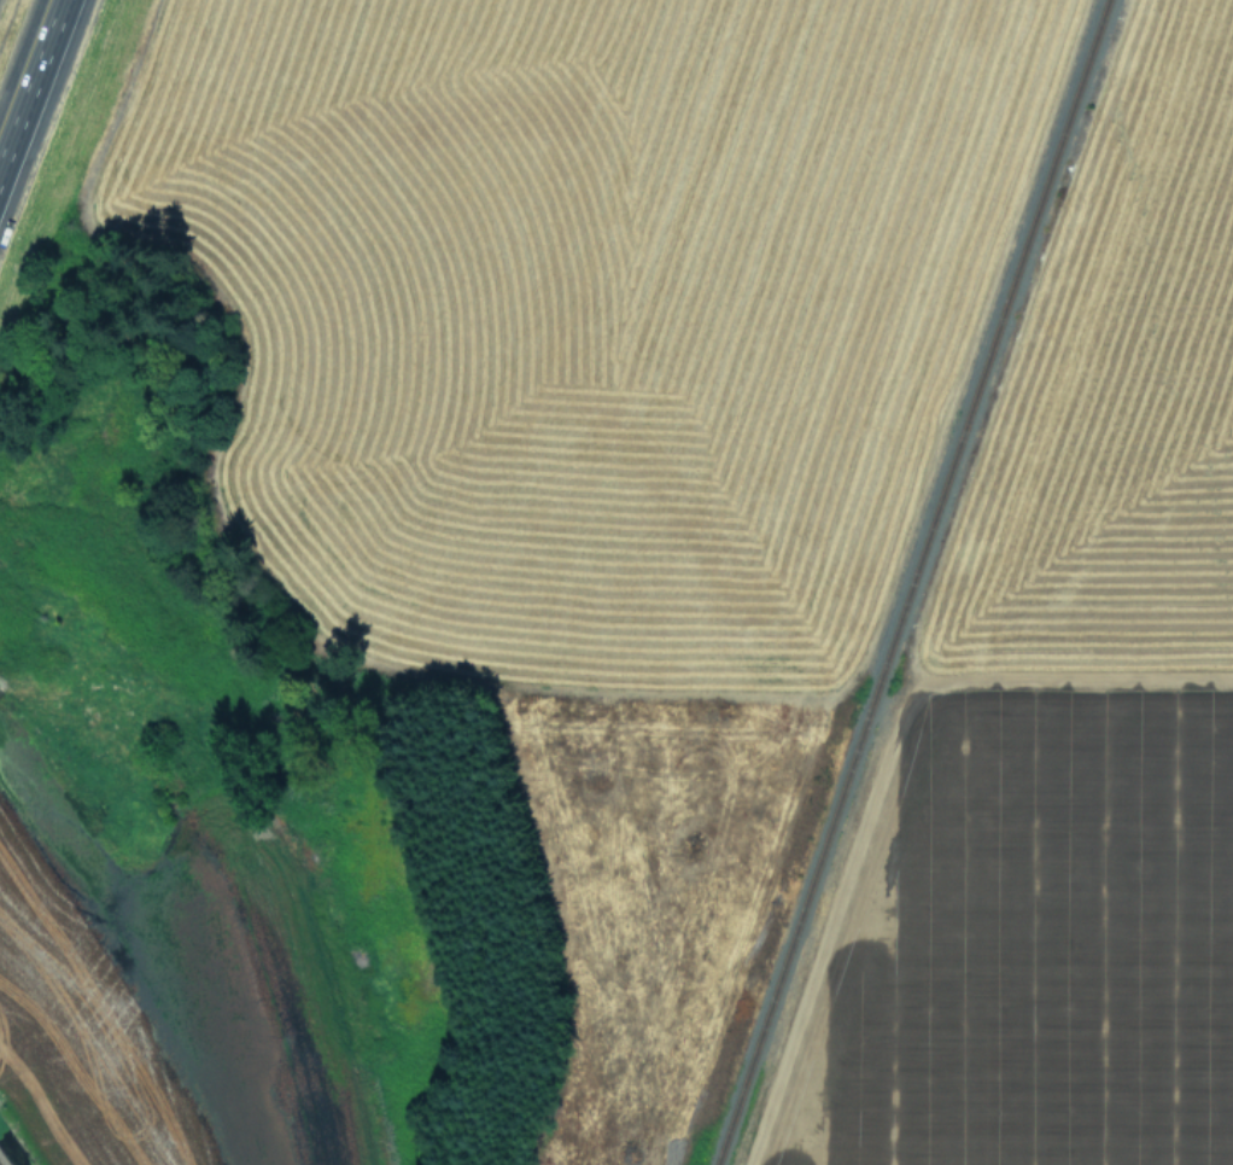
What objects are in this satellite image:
road: (30, 82)
railway: (912, 582)
crop: (633, 595)

